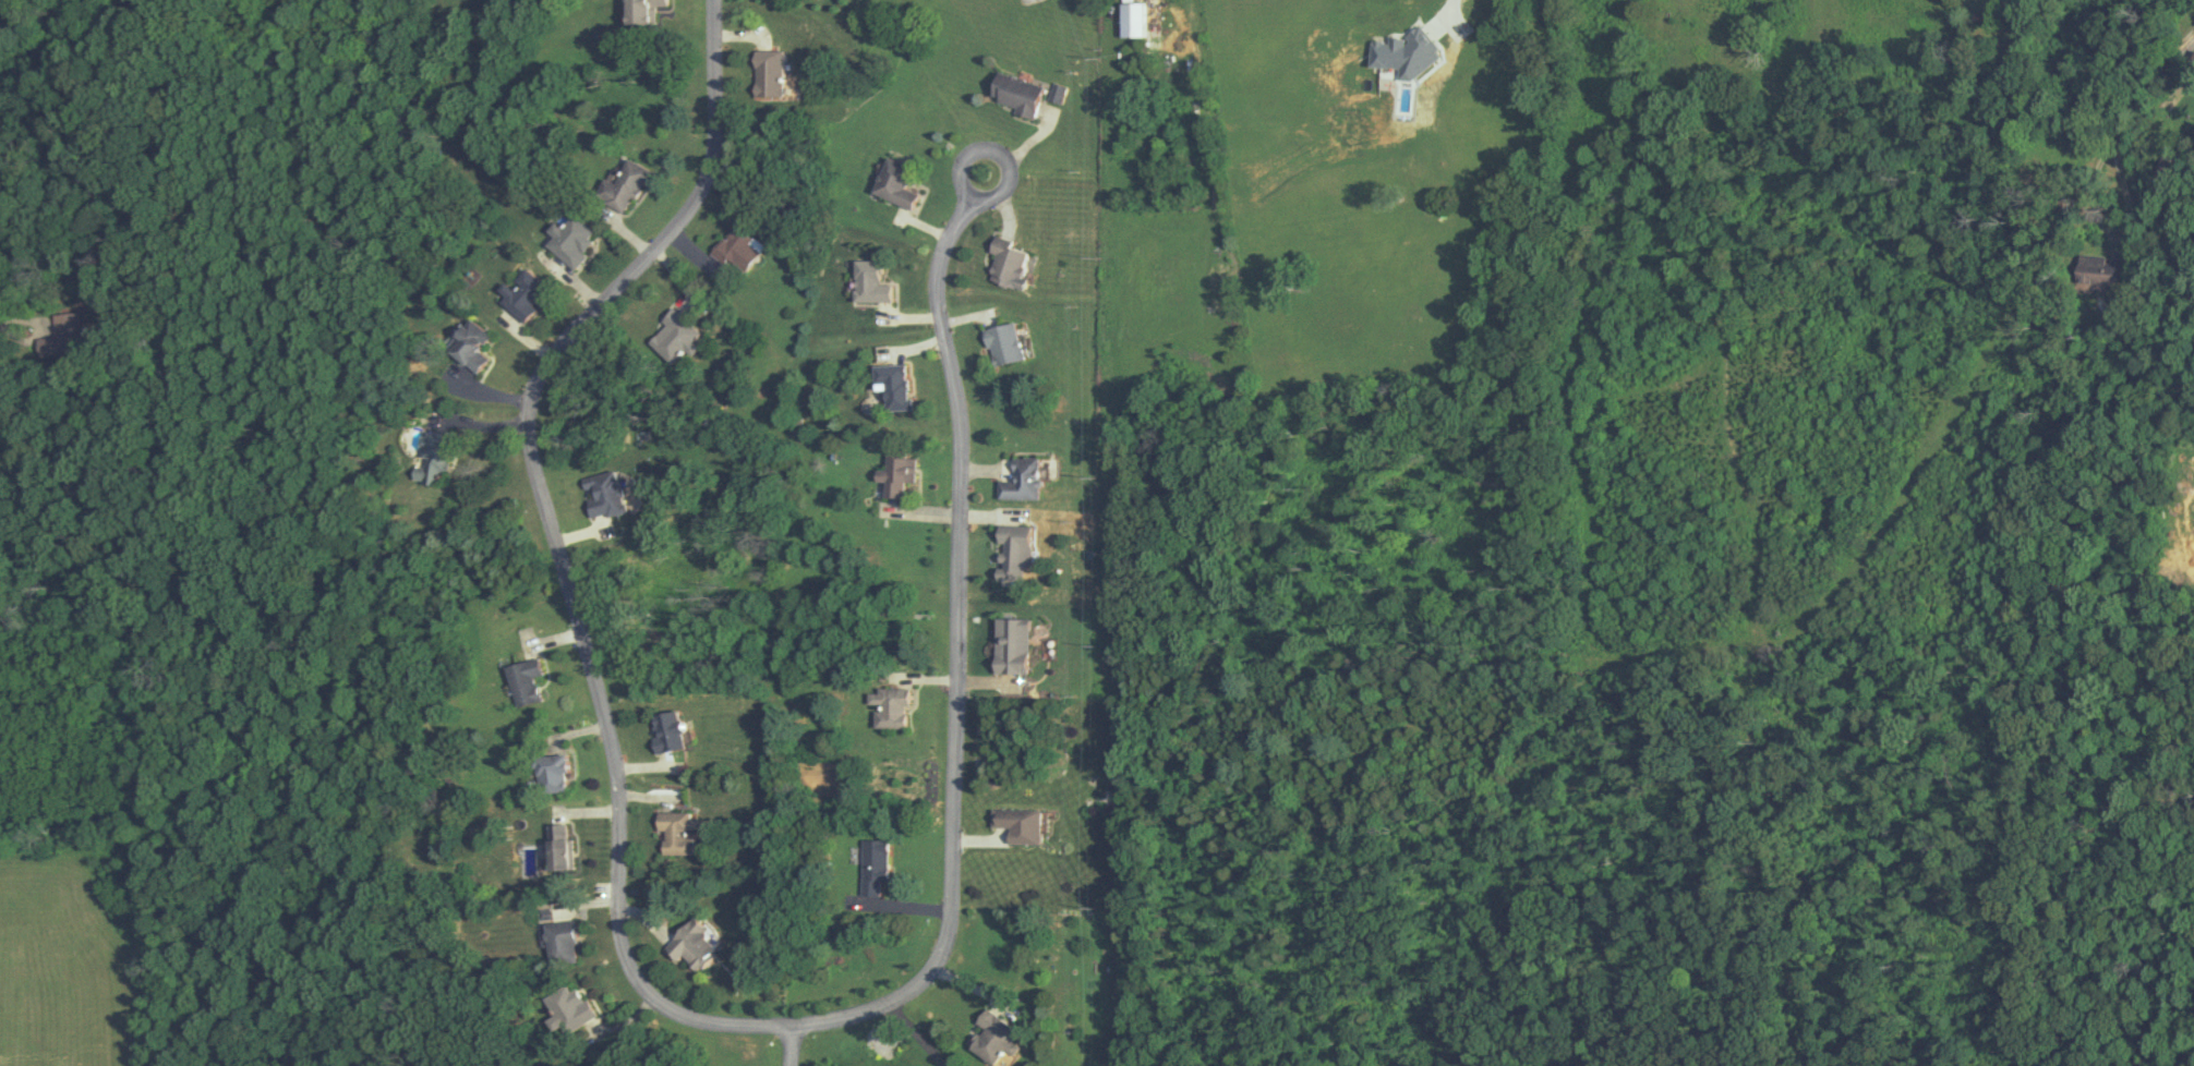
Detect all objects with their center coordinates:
building: (638, 12)
building: (766, 74)
building: (1014, 92)
building: (894, 182)
building: (622, 185)
building: (569, 239)
building: (735, 249)
building: (1005, 262)
building: (2090, 263)
building: (868, 281)
building: (520, 293)
building: (672, 336)
building: (1002, 343)
building: (467, 344)
building: (56, 347)
building: (891, 385)
building: (429, 459)
building: (893, 473)
building: (1020, 480)
building: (601, 494)
building: (1010, 552)
building: (1008, 645)
building: (523, 681)
building: (889, 707)
building: (665, 731)
building: (548, 773)
building: (675, 832)
building: (556, 846)
building: (872, 868)
building: (559, 943)
building: (689, 944)
road: (663, 1004)
building: (567, 1007)
building: (993, 1038)
road: (788, 1044)

